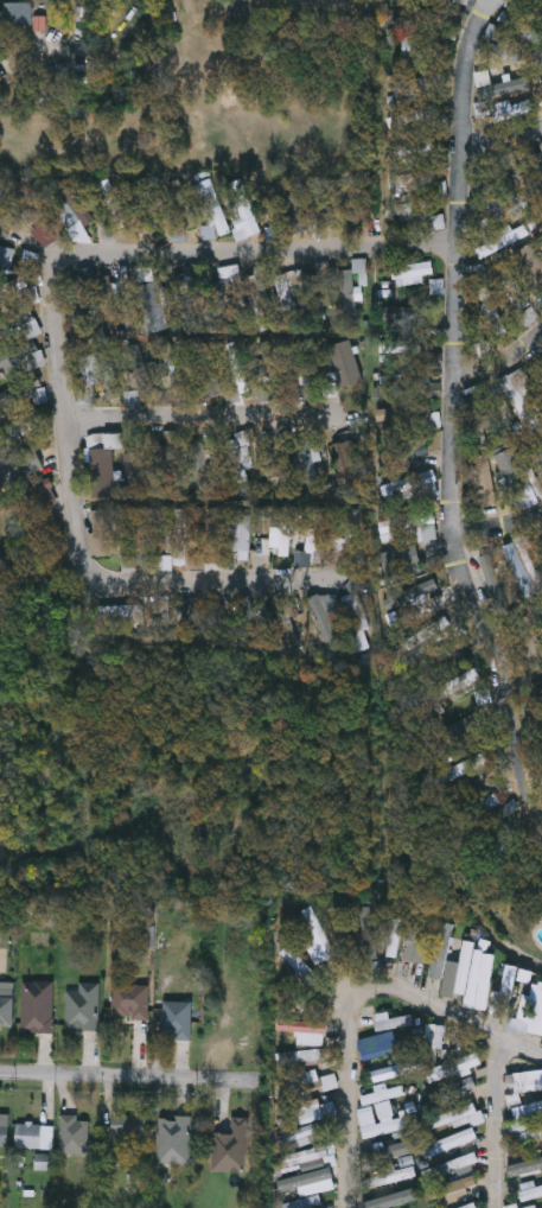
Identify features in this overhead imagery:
building: (512, 4)
building: (538, 4)
building: (17, 13)
building: (519, 26)
building: (420, 46)
building: (540, 59)
road: (502, 136)
building: (285, 201)
building: (76, 203)
building: (181, 204)
building: (0, 208)
building: (213, 208)
building: (243, 208)
building: (415, 209)
building: (503, 209)
building: (504, 237)
road: (267, 254)
building: (6, 258)
building: (423, 267)
building: (435, 286)
building: (230, 292)
building: (259, 295)
building: (30, 297)
building: (319, 297)
building: (291, 298)
building: (187, 300)
building: (110, 301)
building: (78, 306)
building: (154, 306)
building: (491, 313)
building: (26, 324)
building: (345, 363)
road: (503, 364)
building: (139, 369)
building: (240, 371)
building: (537, 371)
building: (172, 373)
building: (209, 374)
building: (106, 377)
building: (408, 379)
building: (40, 395)
building: (164, 401)
road: (66, 407)
building: (391, 414)
road: (457, 414)
road: (205, 418)
building: (172, 450)
building: (538, 451)
building: (429, 460)
building: (276, 462)
building: (103, 463)
building: (240, 463)
building: (311, 465)
building: (202, 468)
building: (349, 468)
building: (138, 473)
building: (483, 478)
building: (42, 479)
building: (412, 528)
road: (497, 529)
building: (101, 533)
building: (144, 535)
building: (240, 535)
building: (181, 536)
building: (281, 536)
building: (314, 539)
building: (32, 543)
building: (165, 561)
building: (401, 561)
building: (522, 566)
building: (492, 580)
road: (202, 584)
building: (433, 598)
building: (199, 615)
building: (120, 616)
building: (356, 616)
building: (427, 634)
building: (528, 643)
road: (529, 684)
building: (455, 685)
building: (536, 712)
building: (473, 725)
building: (541, 763)
building: (478, 765)
building: (317, 929)
building: (394, 937)
building: (416, 943)
building: (441, 949)
building: (465, 966)
building: (307, 974)
building: (484, 981)
building: (508, 990)
road: (351, 998)
building: (132, 1000)
building: (7, 1003)
building: (39, 1005)
building: (84, 1006)
building: (537, 1016)
building: (178, 1021)
building: (393, 1021)
building: (306, 1032)
building: (435, 1042)
building: (390, 1048)
building: (301, 1056)
building: (454, 1066)
building: (388, 1073)
road: (108, 1079)
building: (524, 1080)
building: (330, 1082)
building: (466, 1085)
building: (383, 1093)
building: (527, 1108)
building: (311, 1111)
road: (496, 1120)
building: (378, 1124)
building: (5, 1128)
building: (129, 1128)
building: (529, 1132)
building: (74, 1133)
building: (36, 1134)
building: (174, 1139)
building: (449, 1142)
building: (231, 1146)
building: (314, 1158)
building: (449, 1166)
building: (393, 1176)
building: (448, 1189)
building: (529, 1191)
building: (470, 1206)
building: (511, 1206)
building: (530, 1207)

